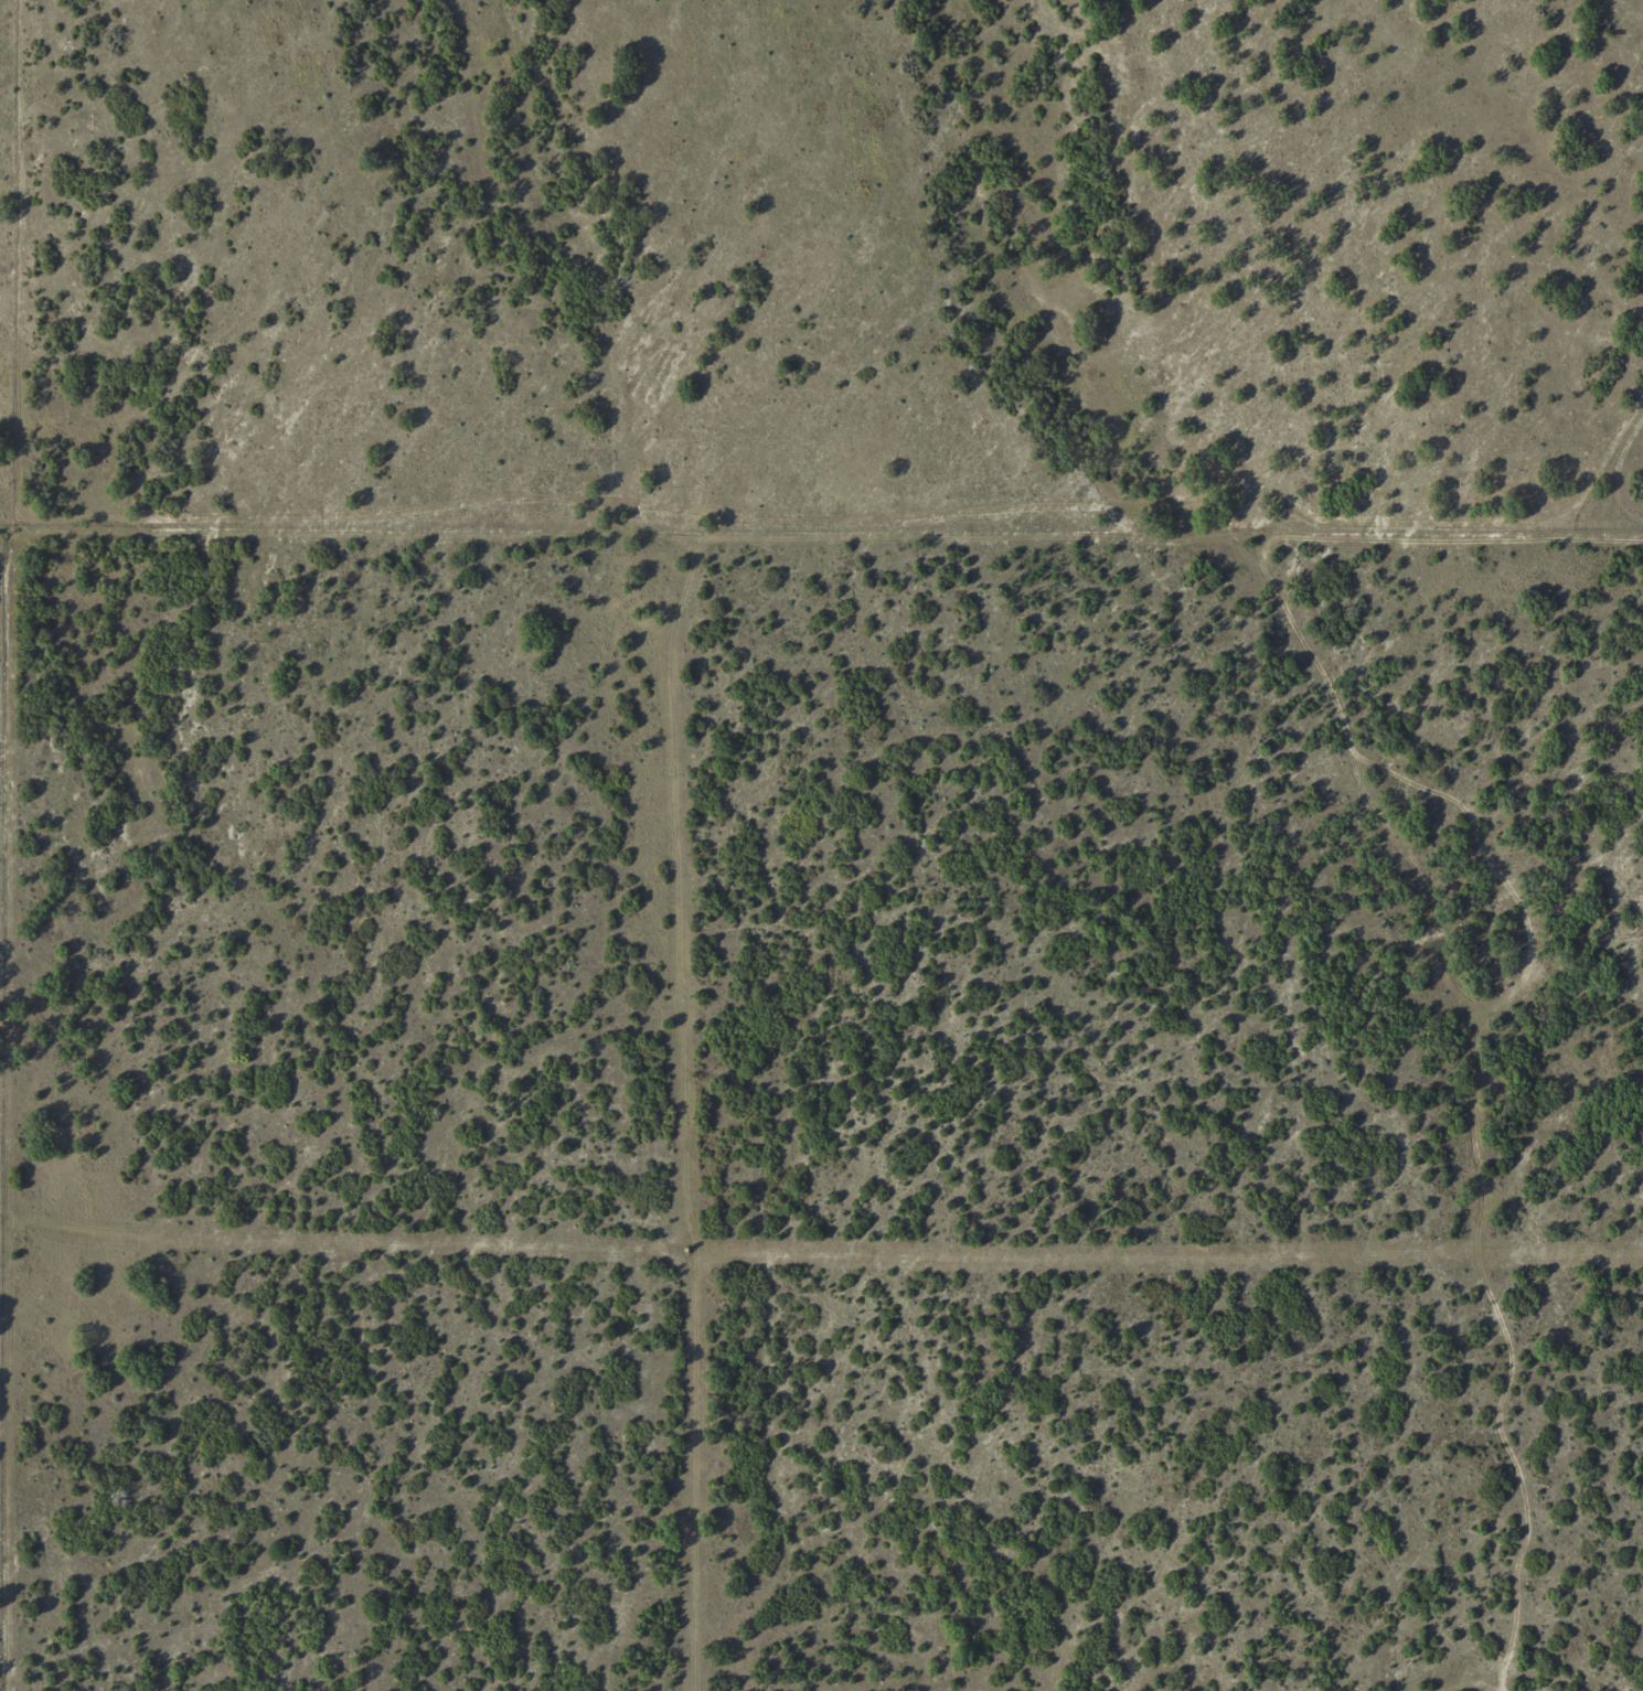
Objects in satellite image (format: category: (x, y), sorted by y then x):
road: (1633, 1681)

